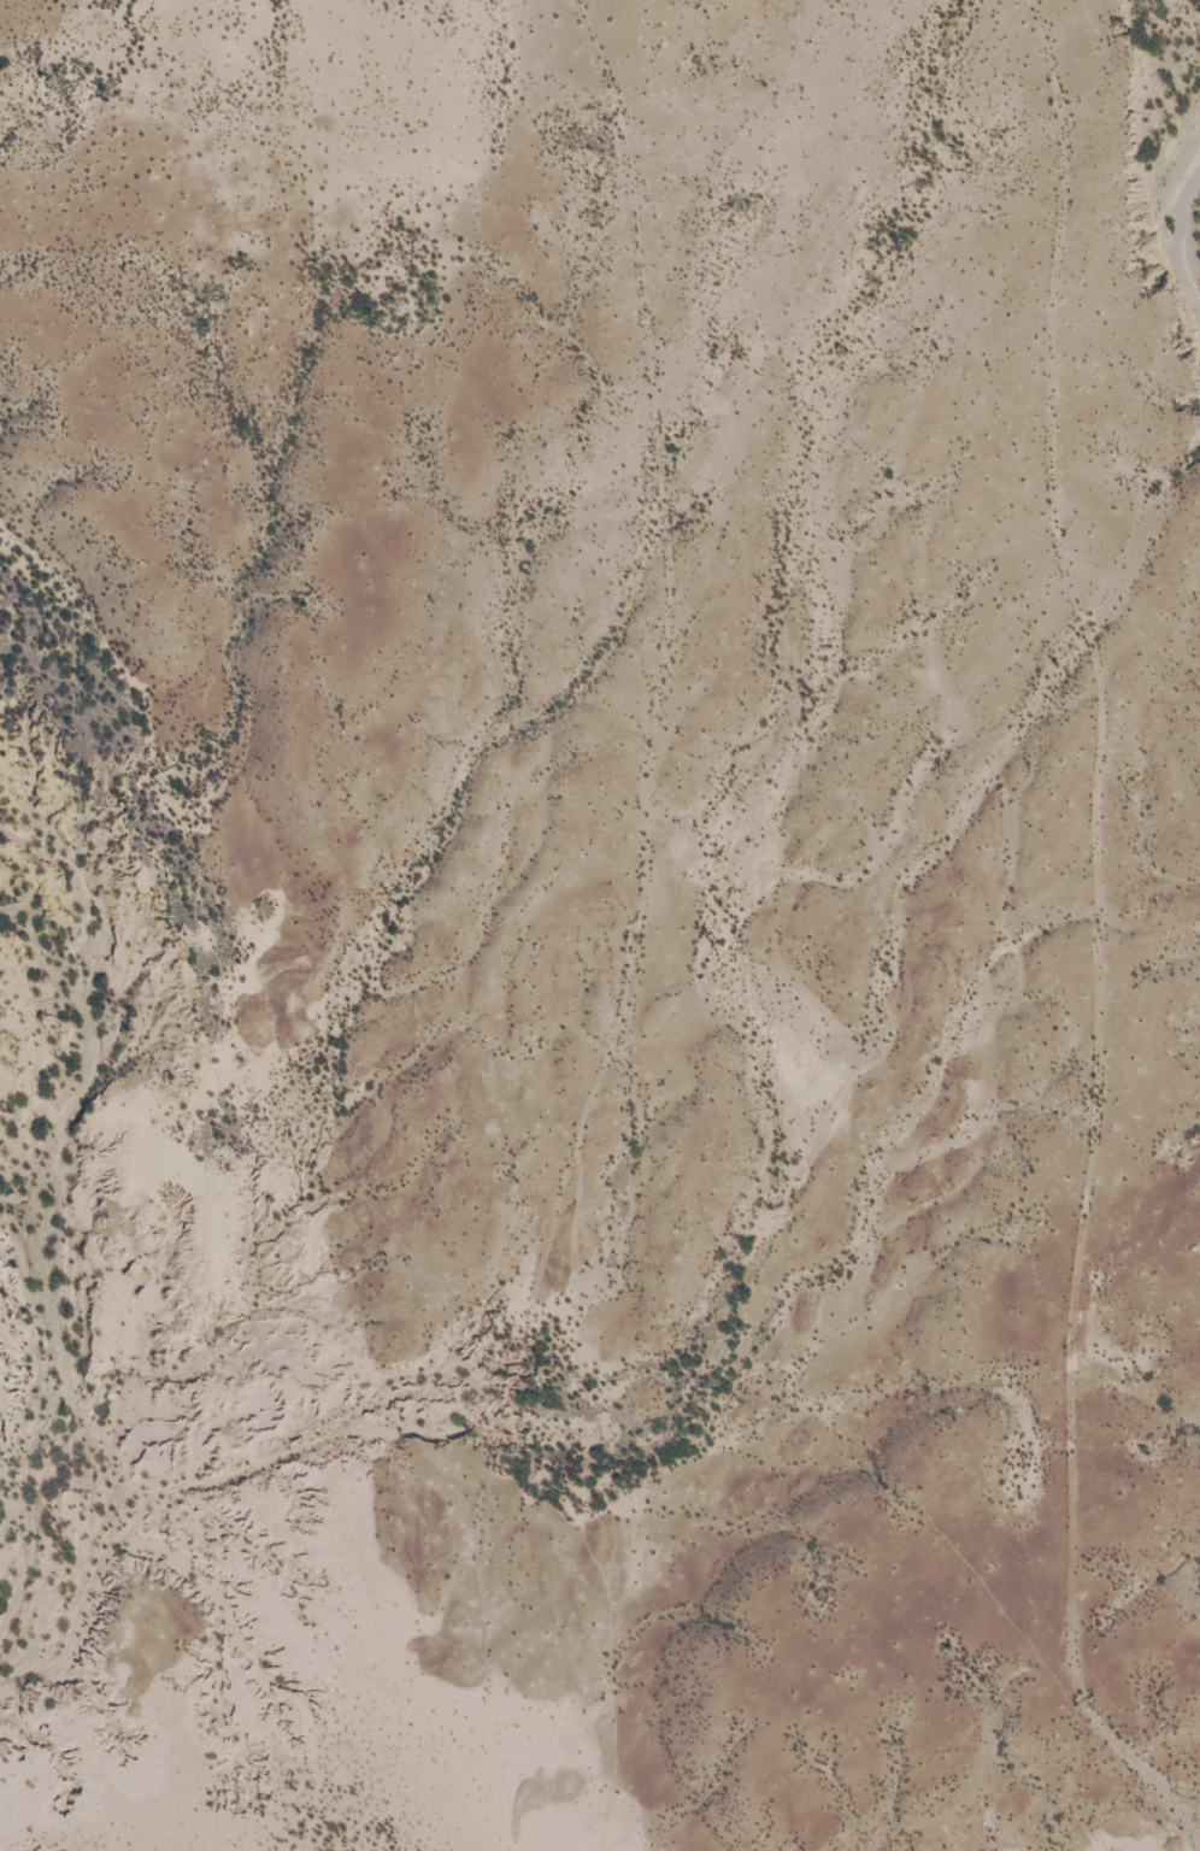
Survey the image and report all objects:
road: (1096, 935)
park: (946, 1644)

